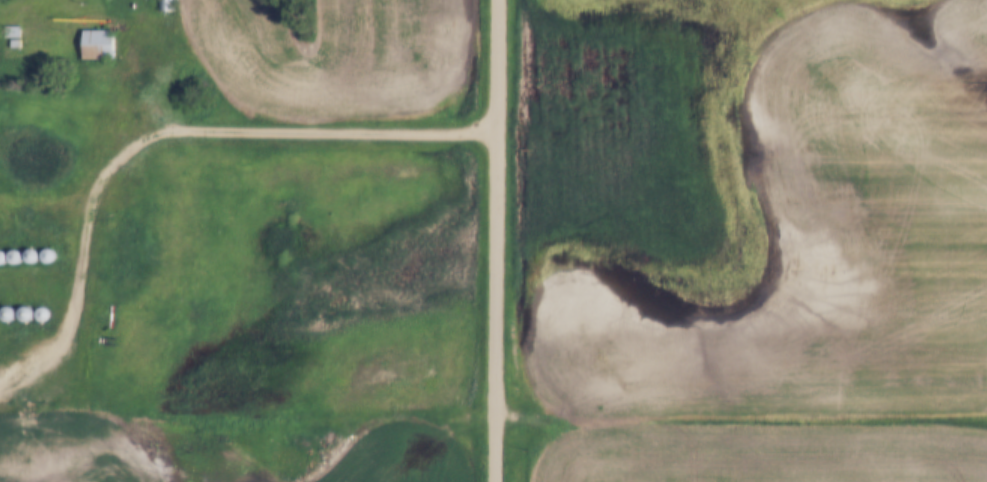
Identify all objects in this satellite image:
building: (165, 5)
building: (98, 43)
road: (163, 132)
road: (494, 240)
road: (740, 421)

